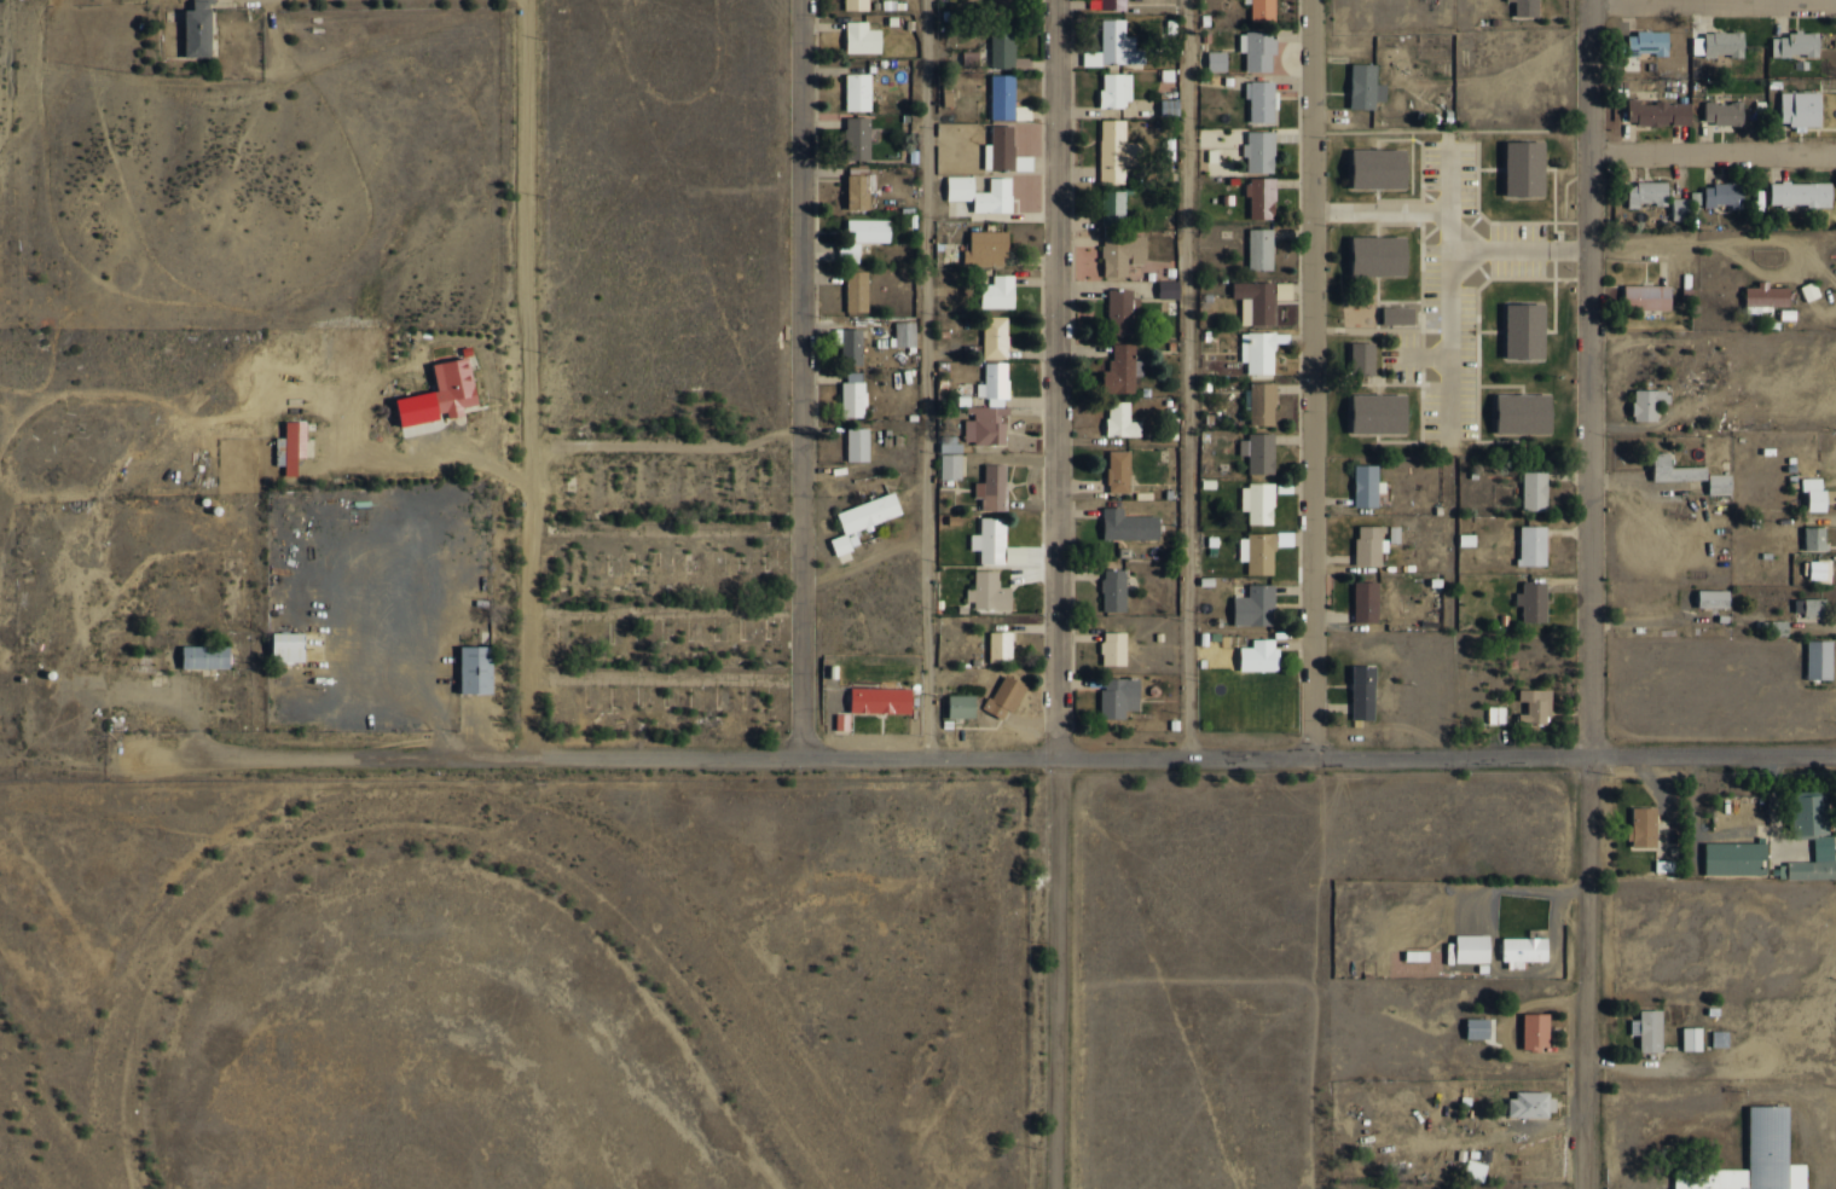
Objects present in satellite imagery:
building: (1112, 4)
road: (1715, 4)
building: (857, 5)
building: (1004, 7)
building: (1527, 7)
building: (1262, 10)
building: (198, 29)
building: (862, 37)
building: (1647, 42)
building: (1720, 43)
building: (1795, 43)
building: (1002, 45)
building: (1114, 46)
building: (1258, 50)
building: (1217, 60)
building: (1366, 86)
building: (1114, 89)
building: (857, 92)
building: (1002, 95)
building: (1261, 100)
building: (1801, 108)
building: (1658, 112)
building: (1724, 112)
building: (857, 138)
building: (1169, 149)
building: (1003, 151)
building: (1118, 151)
building: (1259, 151)
road: (1715, 153)
building: (1369, 164)
building: (1516, 164)
building: (859, 186)
building: (980, 192)
building: (1647, 193)
building: (1724, 193)
building: (1801, 193)
building: (1262, 197)
building: (1687, 205)
building: (1113, 208)
building: (869, 230)
building: (986, 248)
building: (1261, 249)
building: (849, 253)
building: (1369, 253)
building: (1122, 254)
road: (1750, 262)
building: (1168, 289)
building: (1809, 290)
building: (856, 291)
building: (998, 291)
building: (1647, 296)
building: (1766, 296)
building: (1255, 302)
building: (1122, 311)
building: (1390, 311)
building: (1517, 327)
building: (904, 333)
building: (995, 337)
building: (850, 344)
building: (1259, 350)
building: (1353, 355)
building: (1122, 370)
road: (805, 377)
road: (527, 378)
road: (923, 378)
road: (1059, 378)
road: (1186, 378)
road: (1309, 378)
building: (994, 381)
building: (853, 394)
building: (440, 395)
building: (1261, 402)
building: (1649, 404)
building: (1516, 410)
building: (1369, 411)
building: (1120, 420)
building: (985, 425)
building: (857, 445)
building: (291, 446)
building: (950, 447)
building: (1258, 452)
building: (950, 466)
building: (1675, 469)
building: (1118, 471)
building: (1720, 483)
building: (1366, 486)
building: (992, 487)
building: (1535, 491)
building: (1815, 493)
building: (192, 498)
storage tank: (192, 498)
building: (1258, 503)
building: (205, 506)
storage tank: (205, 506)
building: (864, 520)
building: (1129, 524)
building: (1395, 534)
building: (1814, 538)
building: (1285, 539)
building: (1467, 539)
building: (996, 544)
building: (1369, 545)
building: (1533, 545)
building: (1258, 552)
building: (1819, 569)
building: (1114, 590)
building: (989, 592)
road: (1588, 593)
building: (1714, 598)
building: (1366, 602)
building: (1533, 602)
building: (1255, 605)
building: (1809, 607)
building: (1776, 627)
building: (1001, 646)
building: (288, 648)
building: (1113, 648)
building: (1259, 655)
building: (205, 657)
building: (1819, 659)
building: (476, 669)
building: (39, 671)
storage tank: (39, 671)
building: (10, 675)
storage tank: (10, 675)
building: (1363, 692)
building: (1006, 696)
building: (1118, 697)
building: (880, 701)
building: (961, 706)
building: (1535, 706)
building: (1496, 714)
road: (1183, 756)
road: (361, 759)
building: (1811, 812)
building: (1643, 825)
building: (1736, 858)
building: (1813, 863)
building: (1664, 865)
building: (1472, 949)
building: (1523, 951)
road: (1054, 973)
building: (1478, 1027)
building: (1535, 1029)
building: (1649, 1029)
park: (433, 1038)
building: (1692, 1038)
building: (1720, 1038)
building: (1531, 1104)
park: (40, 1131)
building: (1743, 1156)
building: (1476, 1170)

